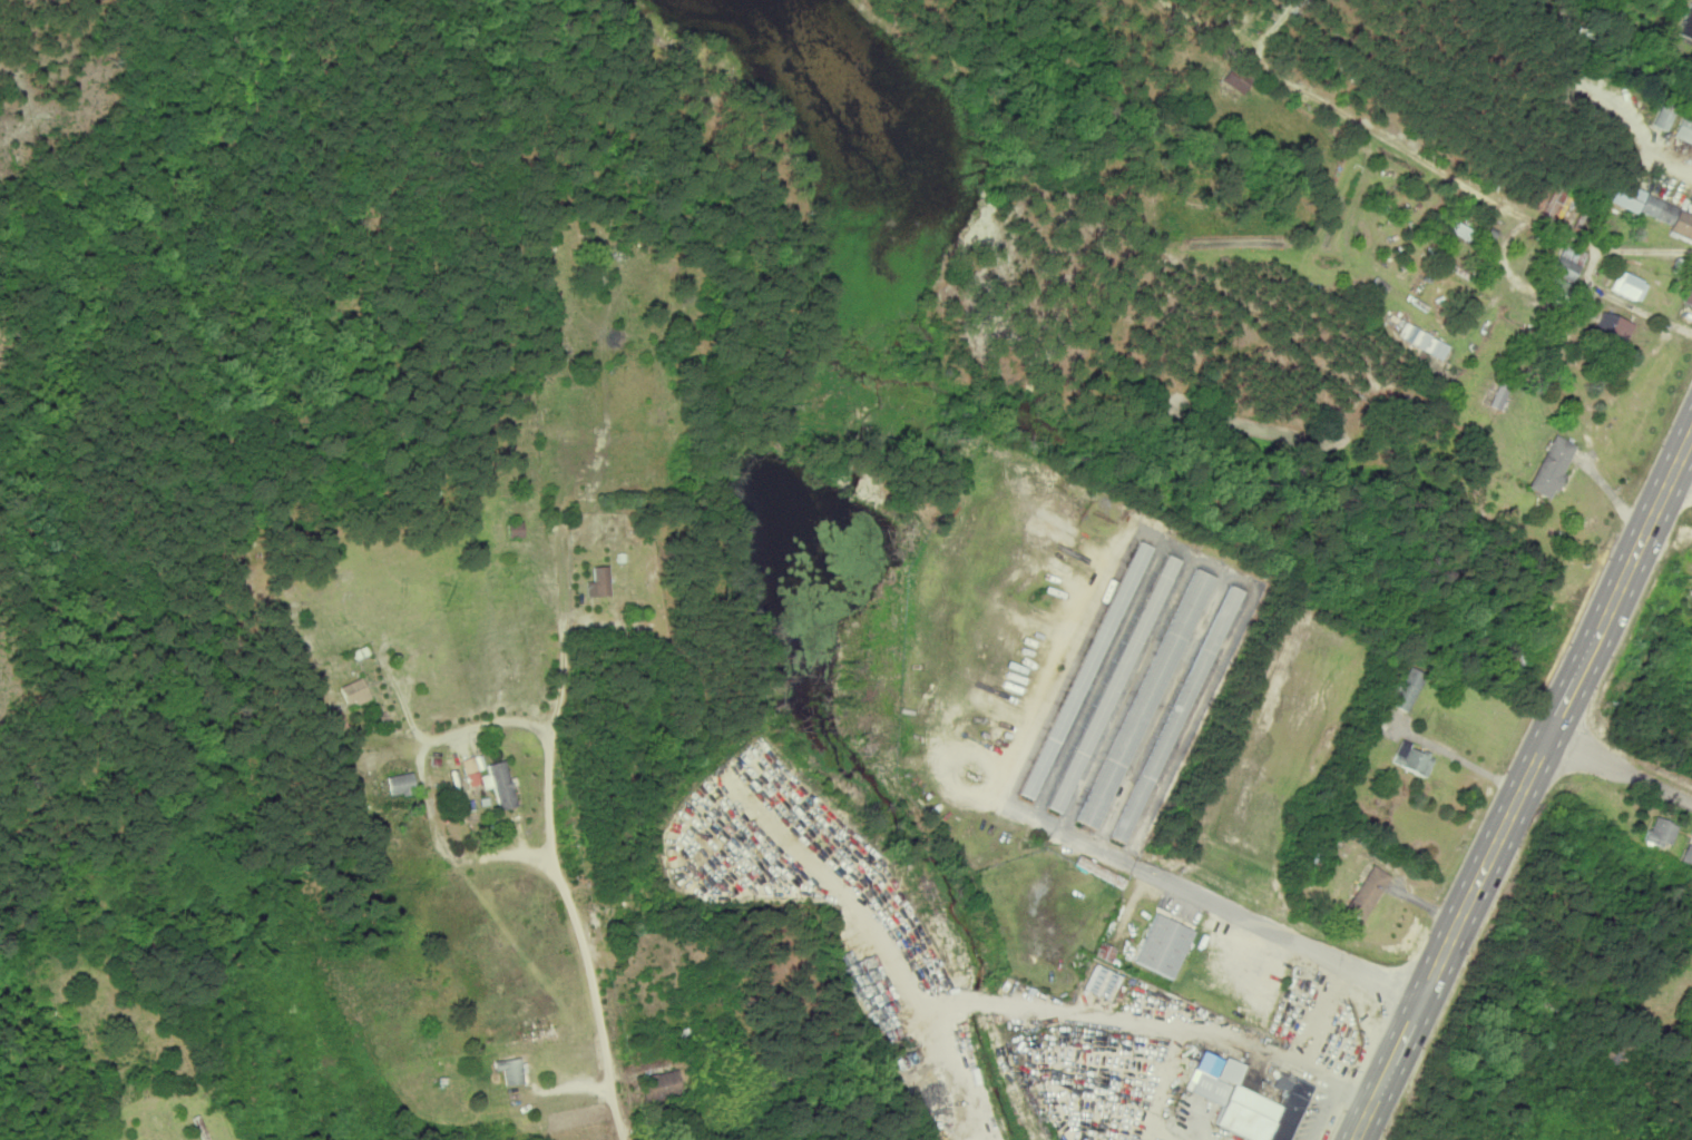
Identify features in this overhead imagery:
building: (1688, 26)
building: (1235, 79)
building: (1662, 118)
building: (1684, 130)
building: (1630, 197)
building: (1659, 208)
building: (1682, 225)
building: (1459, 229)
building: (1568, 261)
building: (1630, 286)
building: (1690, 299)
building: (1613, 325)
building: (1424, 340)
building: (1498, 396)
dam: (784, 456)
building: (1551, 465)
road: (1684, 470)
dam: (871, 501)
building: (515, 529)
building: (599, 582)
building: (1158, 588)
building: (1192, 601)
building: (1407, 689)
building: (354, 690)
building: (339, 721)
building: (1412, 759)
road: (1621, 769)
building: (471, 770)
building: (1072, 773)
road: (426, 774)
building: (401, 784)
building: (500, 784)
road: (1525, 787)
building: (1097, 799)
road: (550, 807)
building: (1660, 832)
building: (1686, 854)
building: (1098, 869)
building: (1366, 892)
building: (1163, 945)
building: (1105, 952)
building: (1102, 982)
building: (510, 1070)
building: (661, 1084)
building: (1250, 1102)

